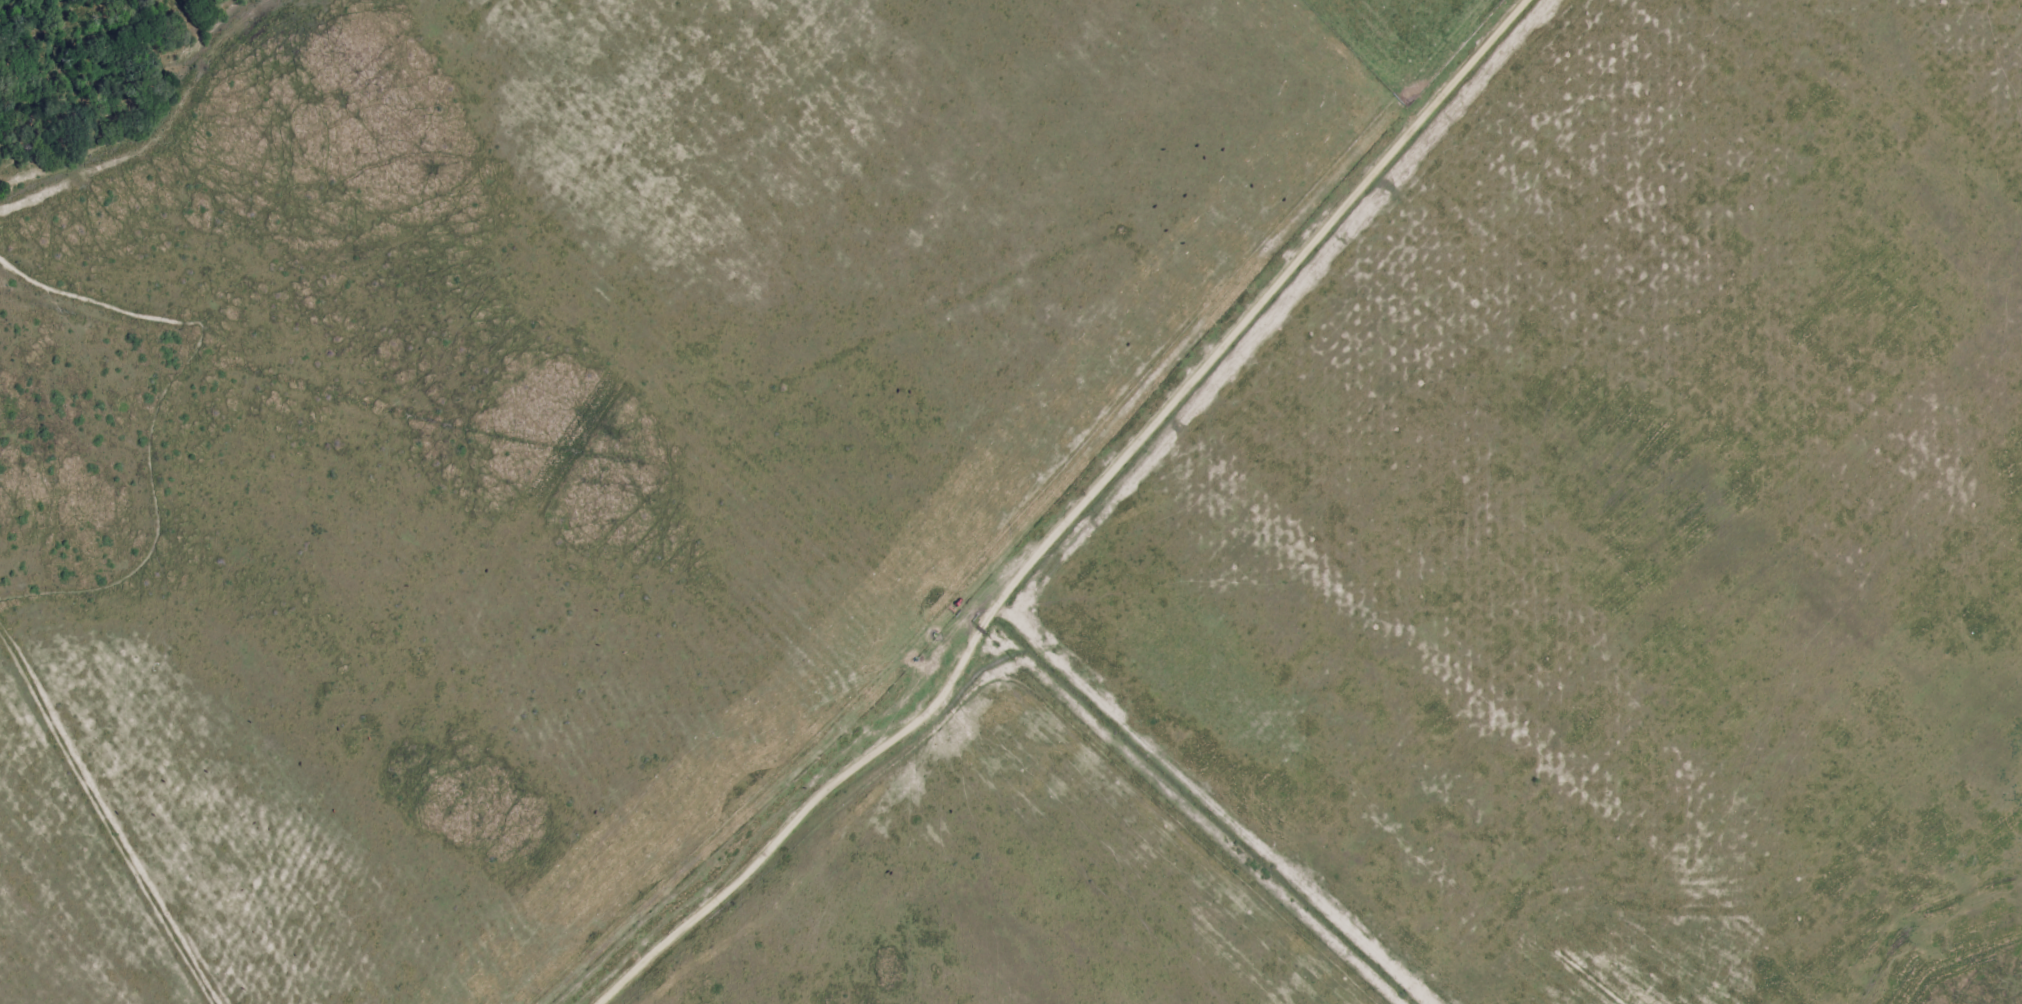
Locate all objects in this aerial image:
road: (1129, 451)
road: (665, 949)

